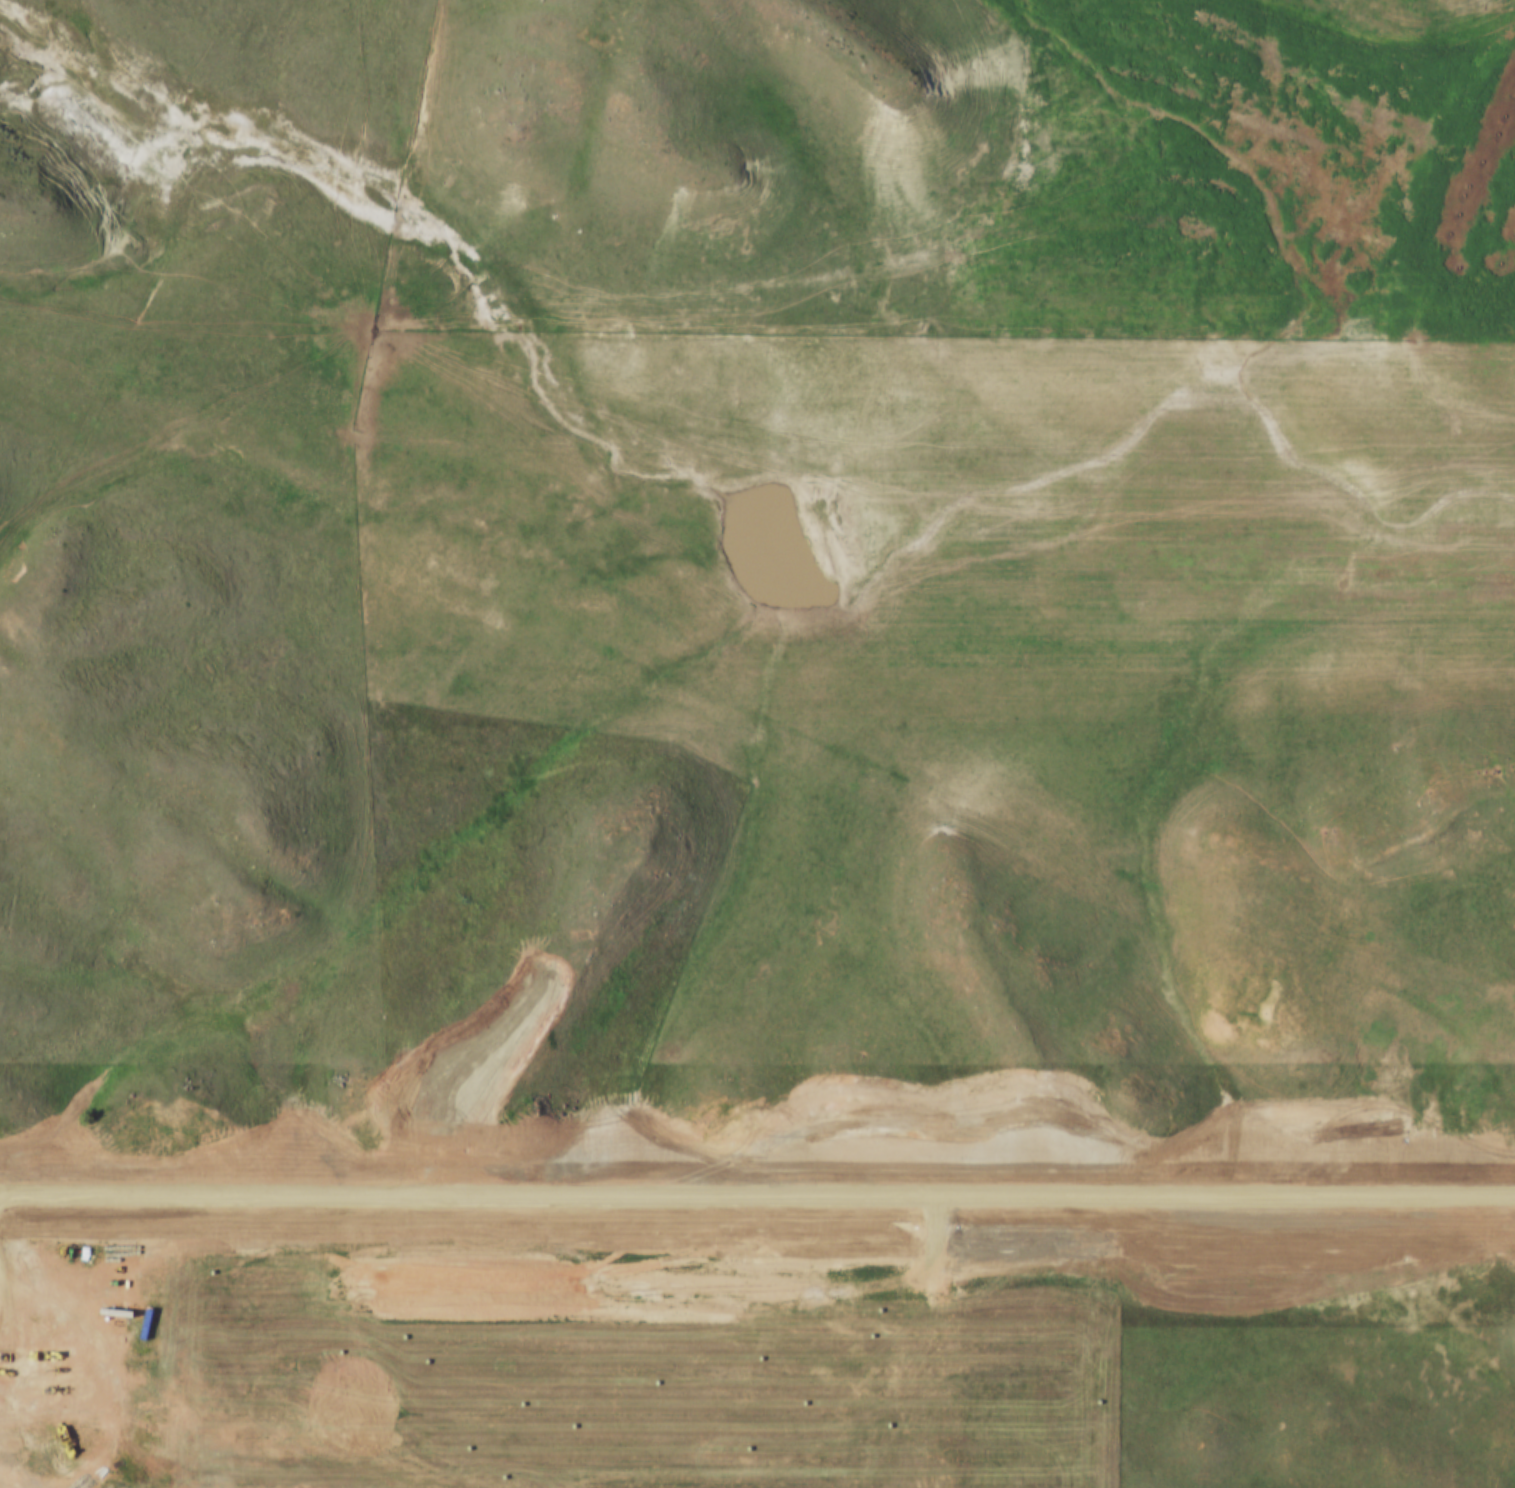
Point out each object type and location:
road: (757, 1189)
quarry: (411, 1364)

